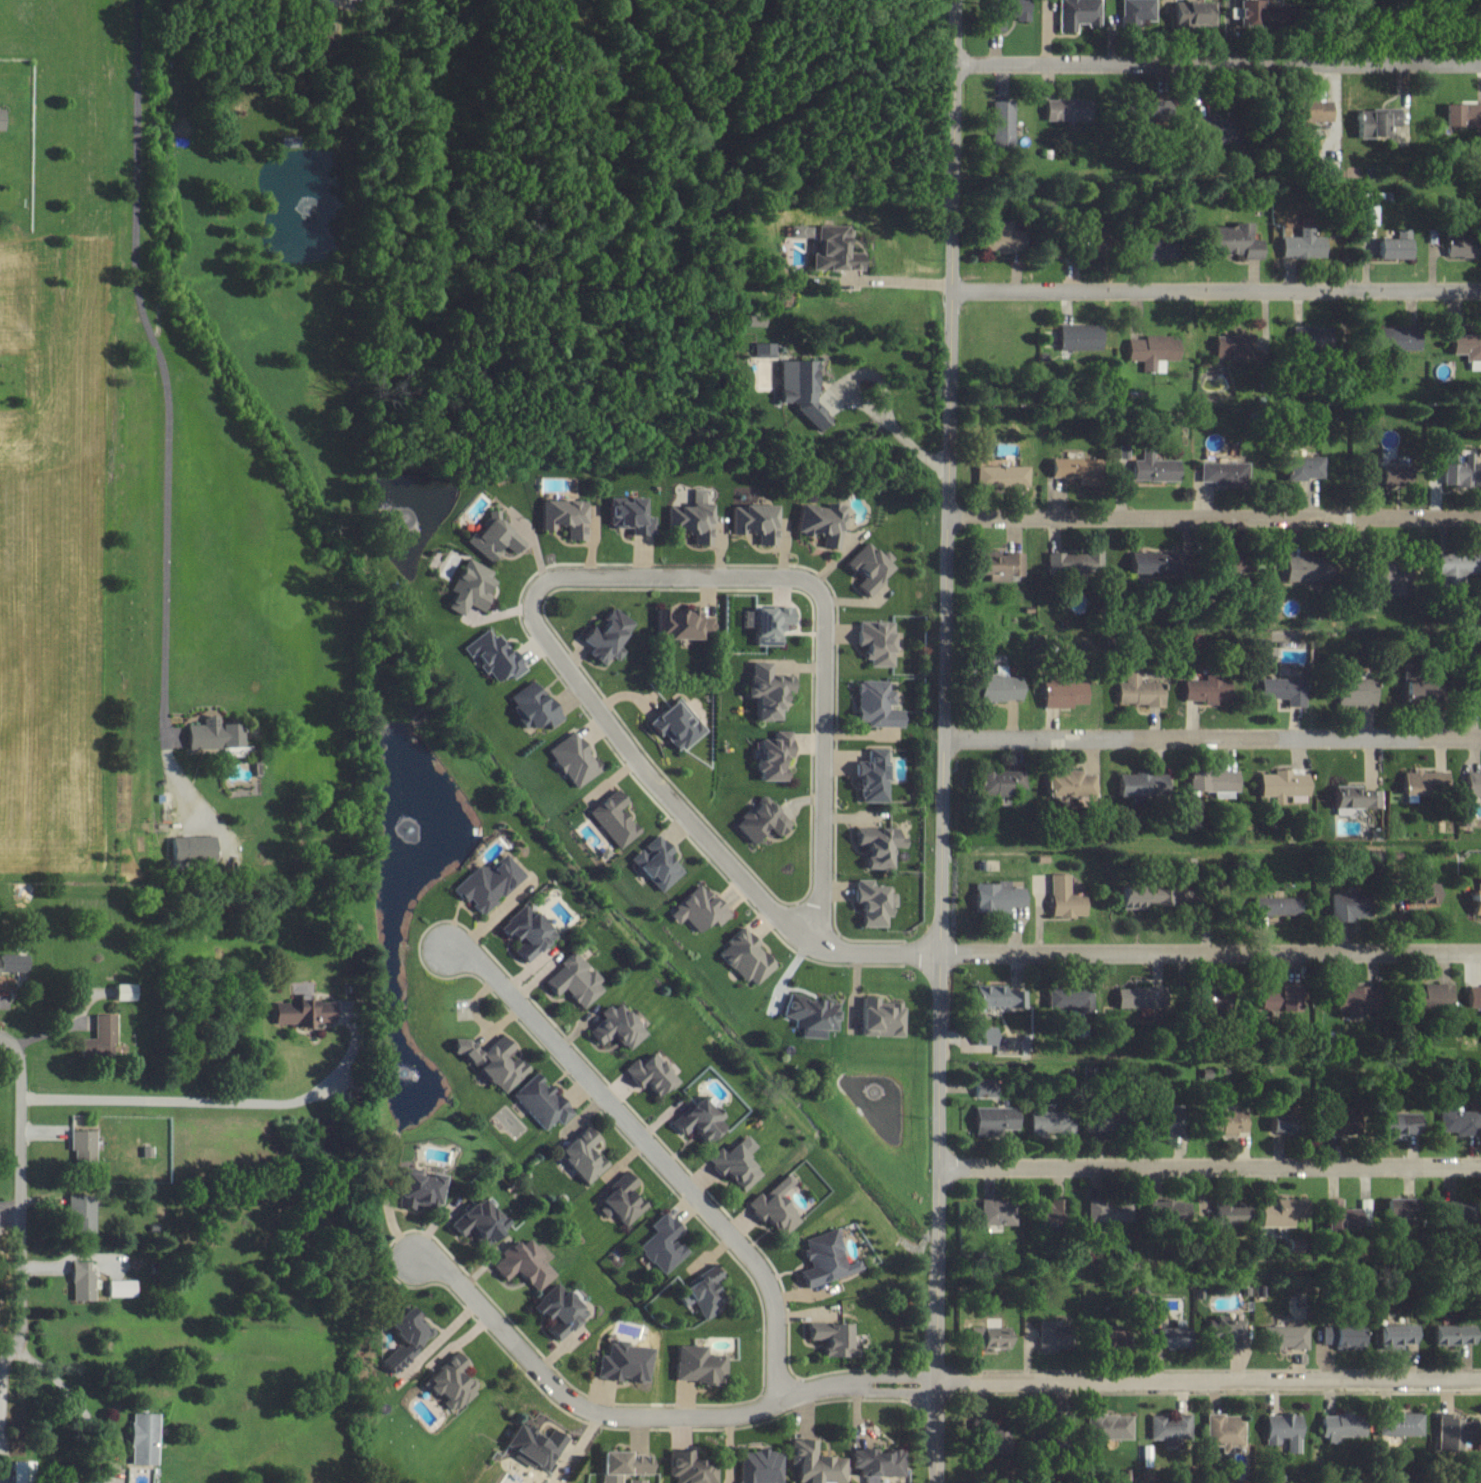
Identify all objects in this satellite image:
building: (1257, 12)
building: (1005, 13)
building: (1137, 13)
building: (1077, 14)
building: (1198, 14)
road: (1218, 64)
building: (1067, 109)
building: (1144, 110)
building: (1311, 111)
building: (1461, 115)
building: (2, 119)
building: (1003, 120)
building: (1377, 122)
building: (1215, 130)
building: (290, 141)
building: (1367, 215)
building: (801, 231)
building: (1082, 233)
building: (1000, 239)
building: (1233, 241)
building: (1147, 246)
building: (1302, 246)
building: (1394, 246)
building: (1461, 248)
building: (834, 250)
road: (898, 288)
road: (1217, 290)
building: (1082, 337)
building: (1310, 337)
building: (1395, 339)
building: (1467, 346)
building: (765, 350)
building: (1153, 350)
road: (162, 380)
building: (800, 388)
road: (862, 411)
building: (1073, 468)
building: (1153, 468)
building: (1301, 468)
building: (1222, 473)
building: (1462, 474)
building: (1003, 476)
building: (1381, 476)
road: (1215, 516)
building: (563, 517)
building: (630, 517)
building: (692, 522)
building: (756, 523)
building: (821, 523)
building: (494, 537)
building: (1213, 557)
building: (1075, 562)
building: (1150, 564)
building: (999, 566)
building: (1457, 567)
building: (870, 569)
building: (1305, 569)
road: (561, 575)
building: (1387, 577)
building: (469, 588)
building: (770, 625)
building: (683, 626)
building: (606, 637)
building: (876, 643)
building: (495, 656)
building: (995, 688)
building: (766, 690)
building: (1203, 690)
building: (1139, 691)
building: (1281, 691)
building: (1413, 692)
building: (1062, 693)
building: (1353, 693)
building: (1471, 696)
building: (876, 705)
building: (533, 707)
building: (677, 725)
building: (213, 735)
road: (1212, 738)
road: (943, 741)
building: (772, 756)
building: (574, 760)
building: (871, 778)
building: (998, 783)
building: (1213, 783)
building: (1424, 783)
building: (1071, 785)
building: (1473, 785)
building: (1139, 786)
building: (1355, 798)
building: (614, 819)
building: (761, 820)
building: (879, 846)
building: (192, 848)
building: (656, 863)
building: (489, 883)
building: (1421, 893)
building: (1144, 896)
building: (997, 897)
building: (1065, 897)
building: (1475, 901)
building: (874, 903)
building: (1276, 905)
building: (1345, 906)
building: (698, 909)
building: (527, 932)
road: (1210, 951)
building: (746, 957)
building: (575, 980)
building: (130, 991)
building: (1435, 994)
building: (1286, 995)
building: (997, 996)
building: (1473, 996)
building: (1067, 997)
building: (1133, 997)
building: (1349, 998)
building: (311, 1012)
building: (811, 1015)
building: (880, 1017)
building: (617, 1028)
building: (985, 1035)
building: (105, 1037)
road: (20, 1061)
building: (492, 1061)
building: (650, 1075)
building: (985, 1088)
road: (185, 1100)
building: (541, 1101)
building: (996, 1119)
building: (1167, 1119)
building: (701, 1121)
building: (1226, 1121)
building: (1461, 1122)
building: (1052, 1123)
building: (1285, 1123)
building: (1402, 1124)
building: (88, 1145)
road: (655, 1151)
building: (582, 1155)
building: (738, 1164)
road: (1210, 1165)
building: (623, 1201)
building: (777, 1206)
building: (1400, 1207)
building: (88, 1210)
building: (1173, 1210)
building: (1453, 1210)
building: (998, 1211)
building: (1105, 1211)
road: (22, 1213)
building: (1231, 1213)
building: (1278, 1213)
building: (1336, 1215)
building: (487, 1218)
building: (662, 1243)
building: (826, 1259)
building: (530, 1263)
building: (88, 1281)
building: (127, 1288)
building: (702, 1293)
building: (567, 1309)
building: (1227, 1332)
building: (1048, 1334)
building: (1102, 1334)
building: (1453, 1334)
building: (1340, 1336)
building: (1396, 1336)
building: (989, 1337)
building: (1164, 1337)
building: (1284, 1337)
building: (413, 1338)
building: (832, 1339)
road: (15, 1346)
building: (627, 1362)
building: (696, 1365)
road: (1, 1377)
road: (1207, 1379)
building: (457, 1383)
road: (80, 1401)
road: (648, 1414)
building: (1402, 1423)
building: (1108, 1426)
building: (1341, 1426)
building: (1171, 1428)
building: (1226, 1431)
building: (1285, 1431)
building: (1449, 1433)
building: (990, 1436)
building: (150, 1438)
building: (542, 1441)
building: (877, 1462)
building: (815, 1464)
building: (630, 1465)
building: (760, 1466)
building: (690, 1468)
building: (28, 1471)
building: (641, 1481)

